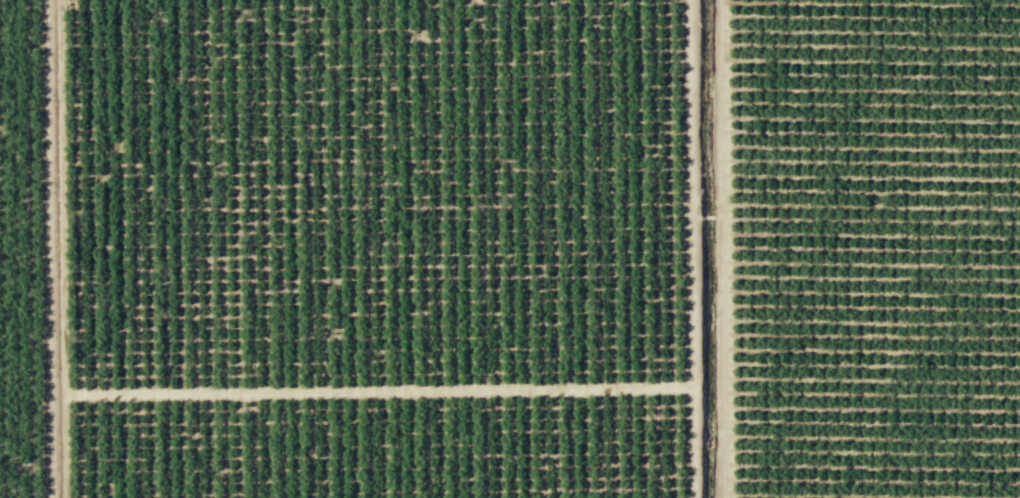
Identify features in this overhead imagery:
road: (62, 248)
road: (696, 248)
road: (724, 249)
road: (381, 391)

